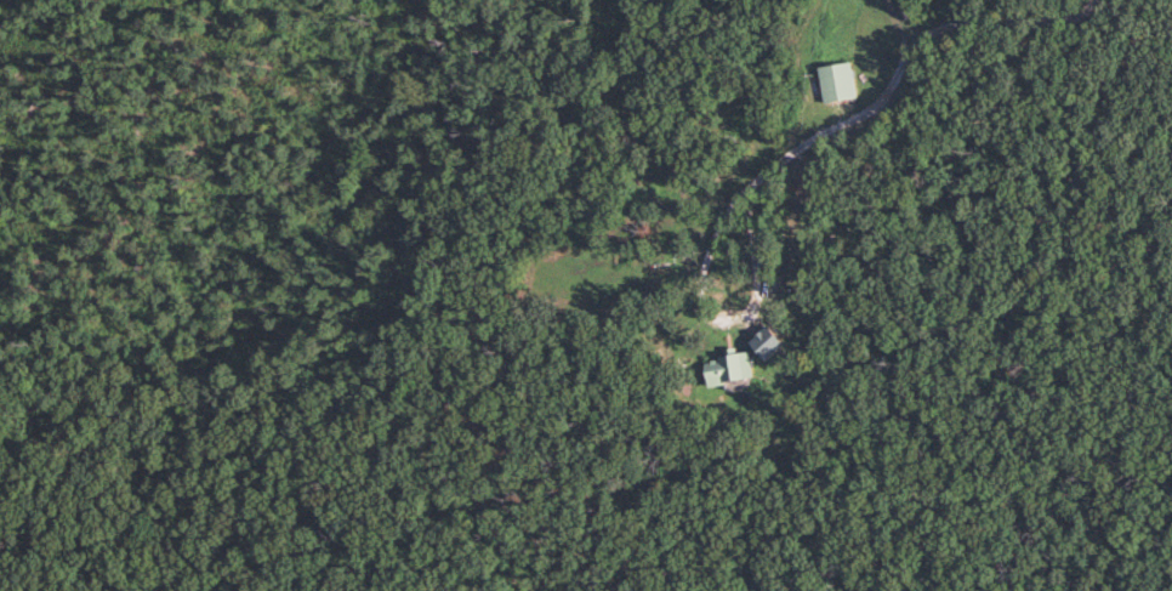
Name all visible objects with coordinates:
building: (832, 83)
road: (871, 117)
building: (724, 369)

